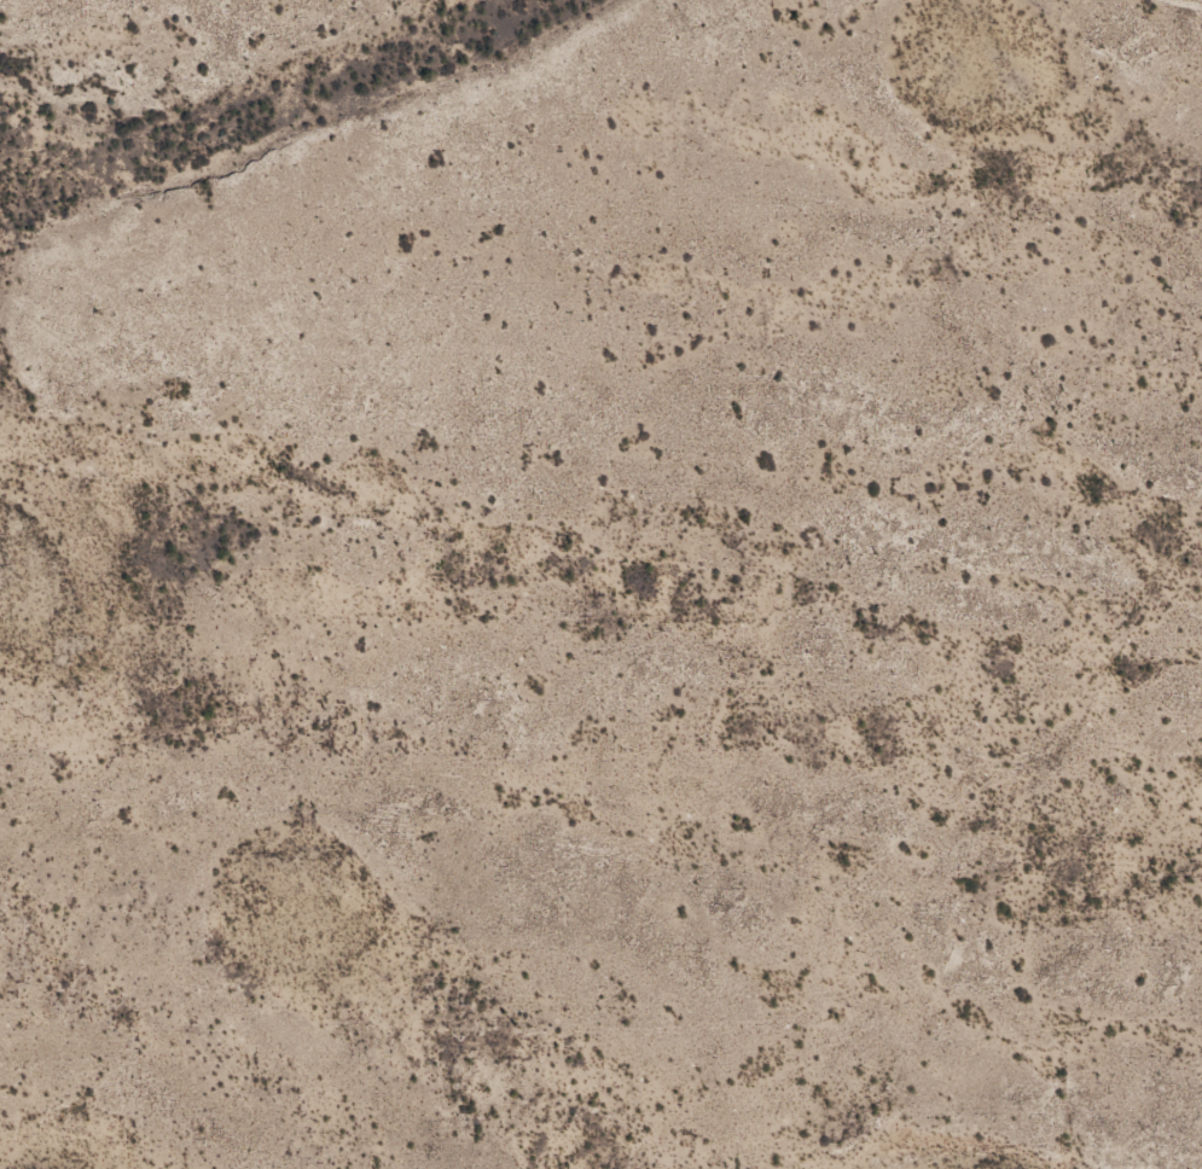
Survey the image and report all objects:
road: (1034, 861)

